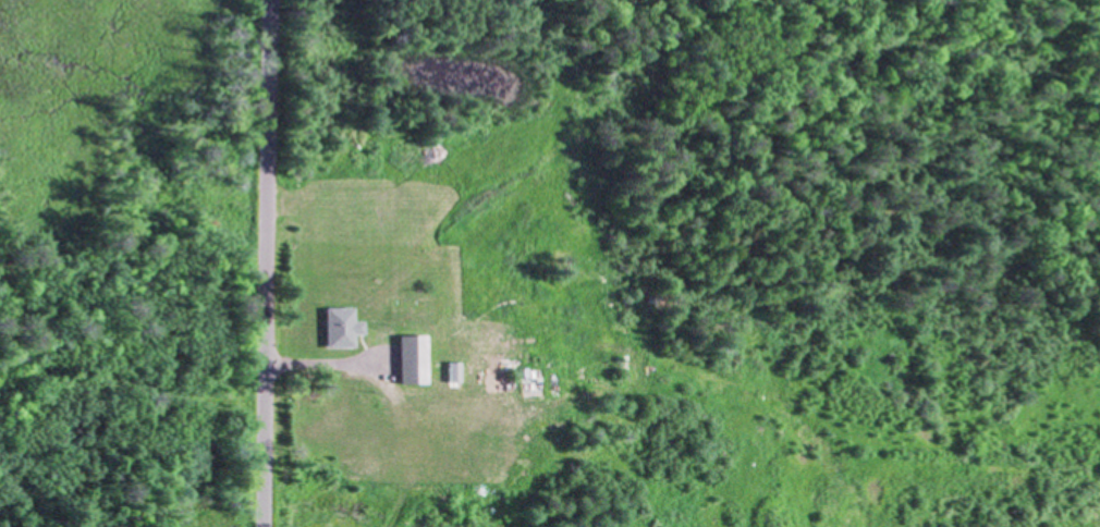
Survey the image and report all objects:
road: (268, 263)
building: (341, 327)
building: (411, 357)

